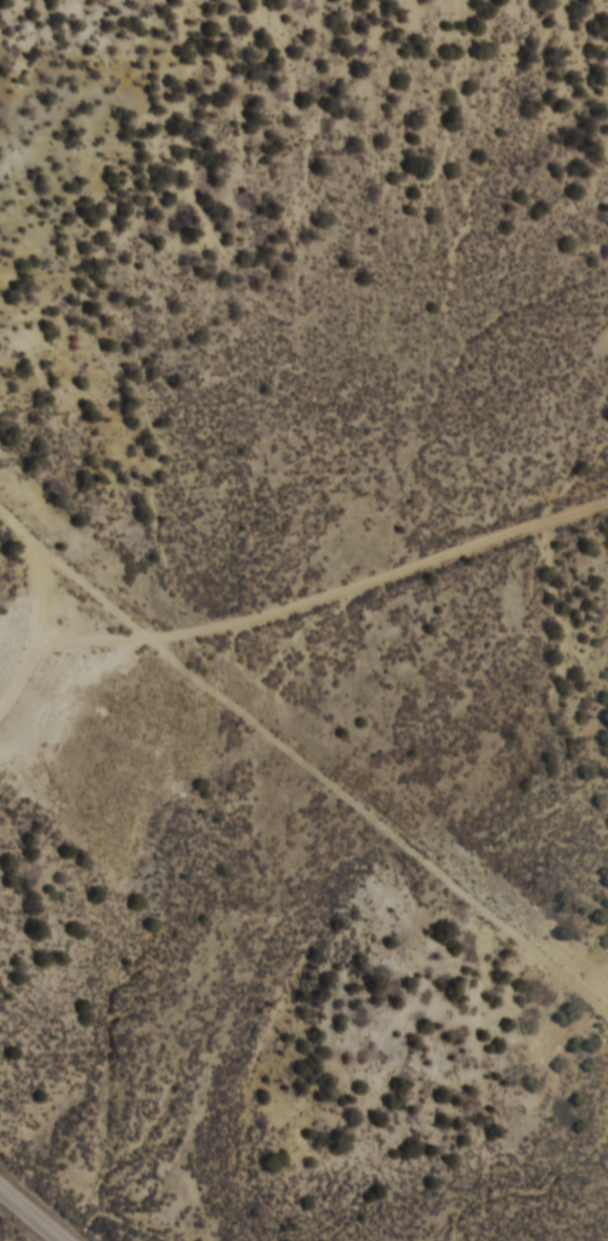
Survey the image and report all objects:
road: (44, 557)
road: (331, 591)
road: (25, 672)
road: (324, 770)
road: (34, 1211)

